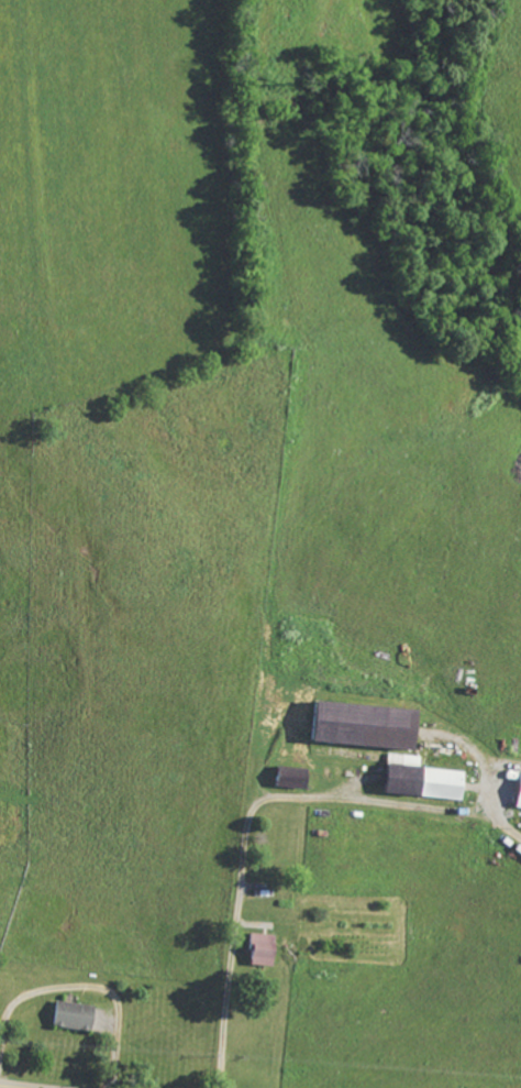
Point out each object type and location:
building: (370, 725)
building: (297, 777)
building: (425, 779)
building: (520, 809)
road: (253, 810)
building: (265, 949)
building: (77, 1015)
road: (20, 1085)

